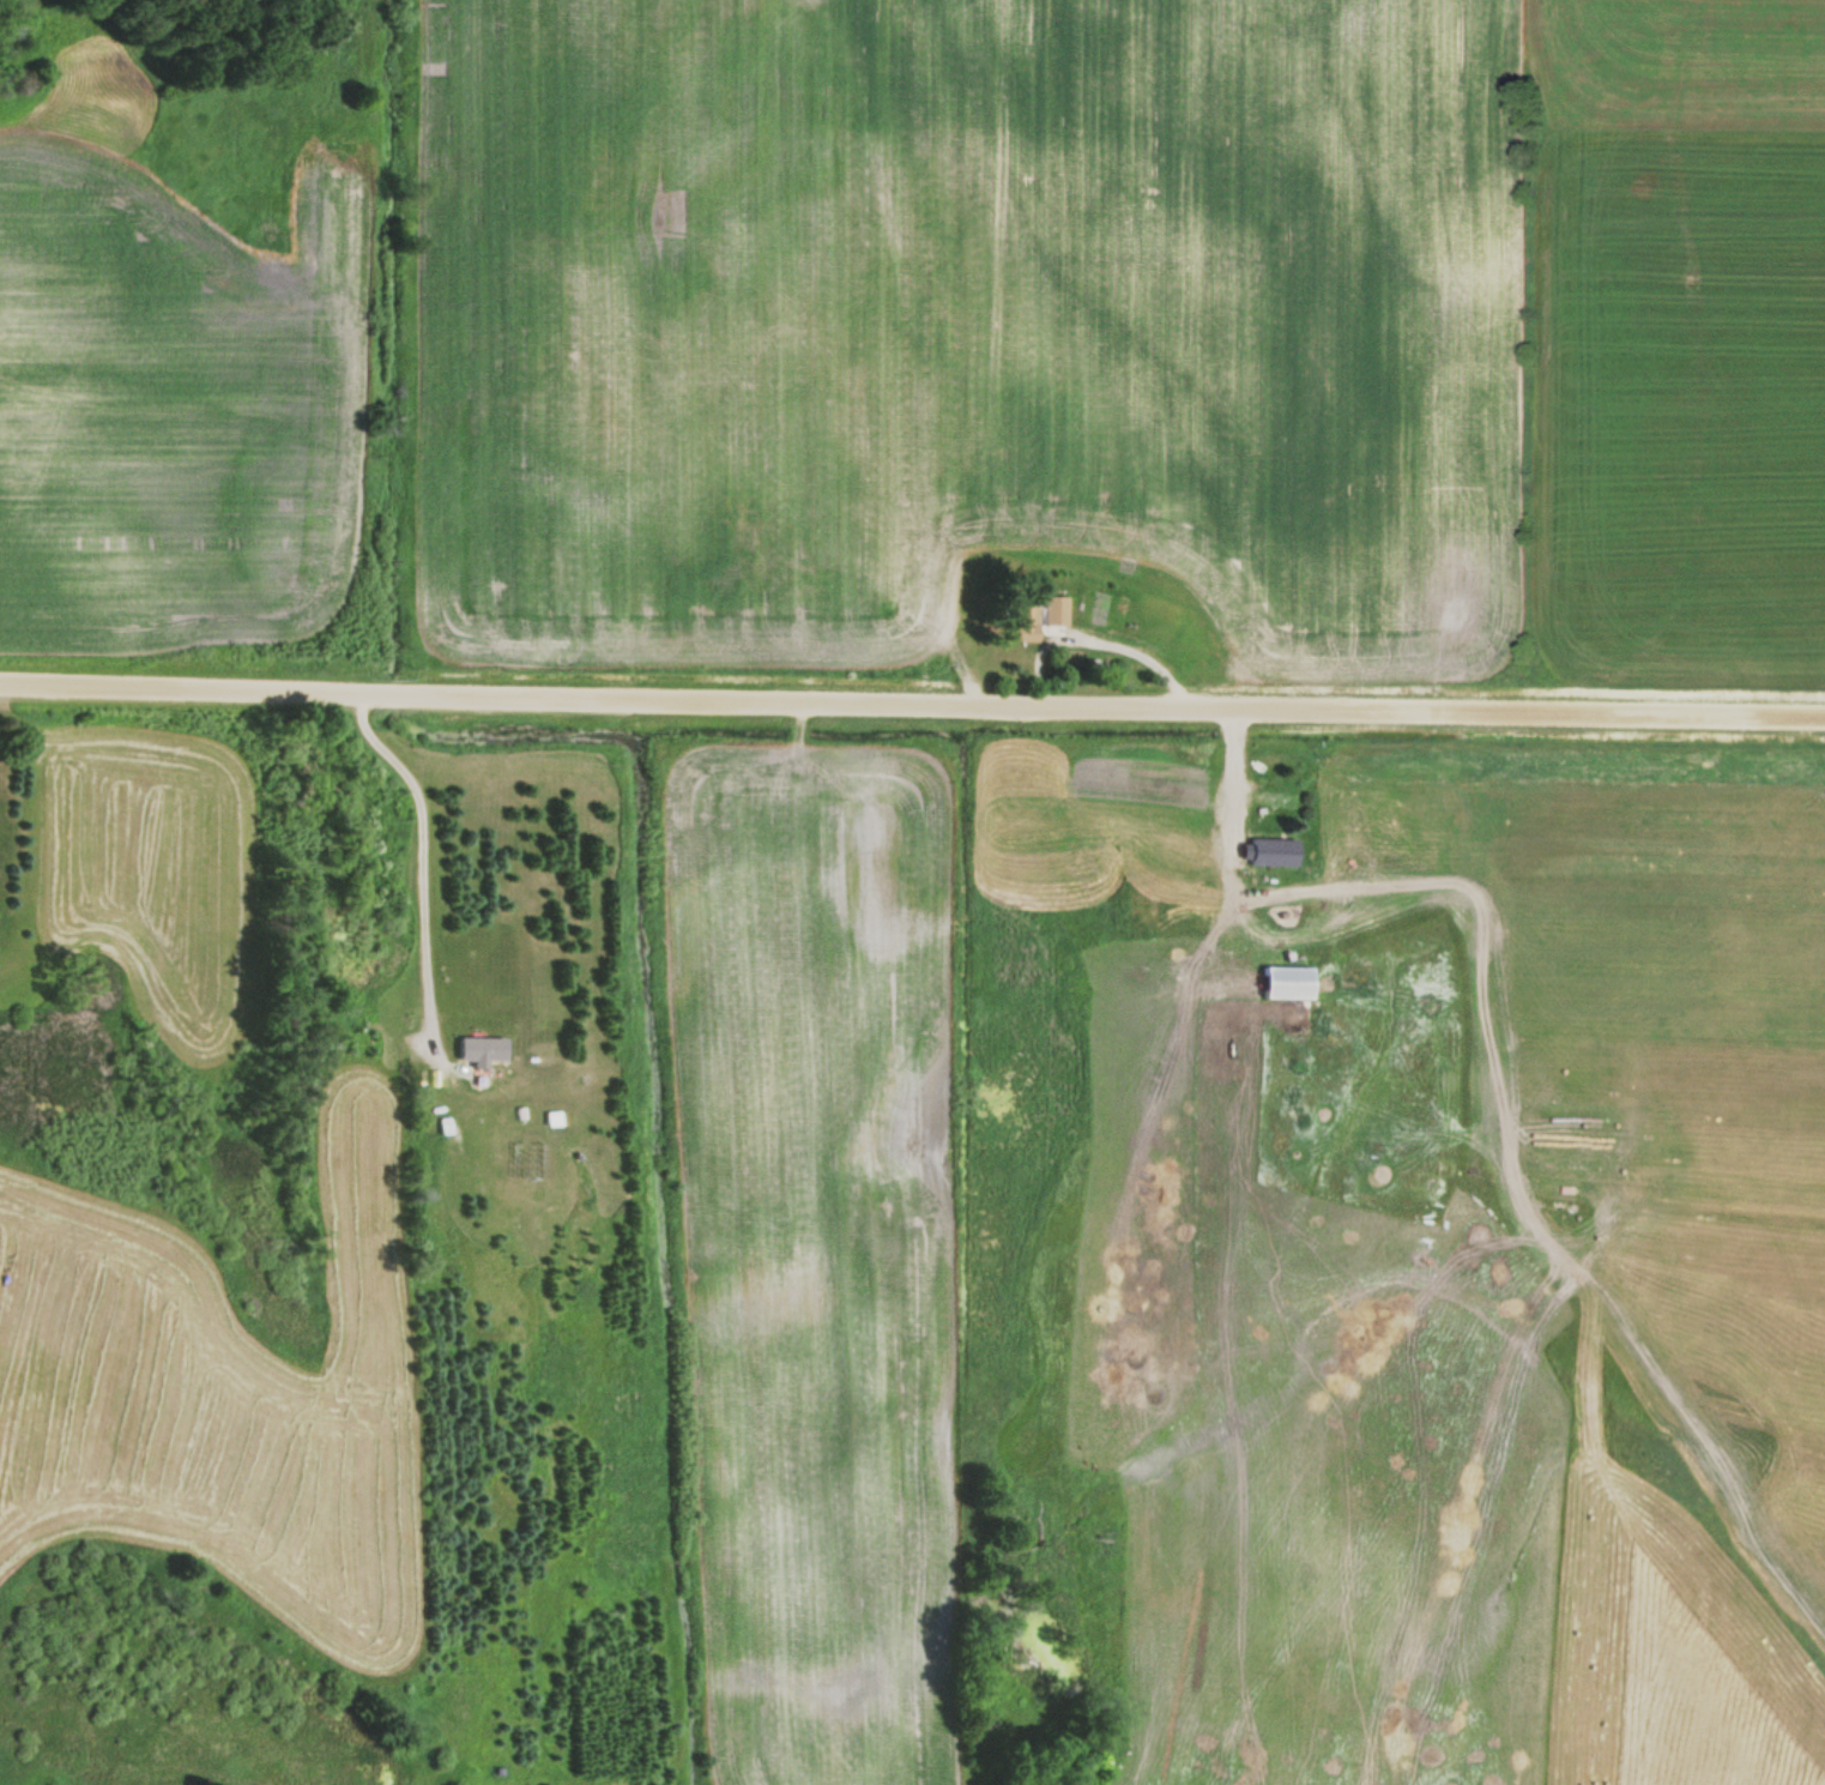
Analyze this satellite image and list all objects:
building: (1033, 616)
road: (912, 704)
building: (1279, 983)
building: (472, 1051)

